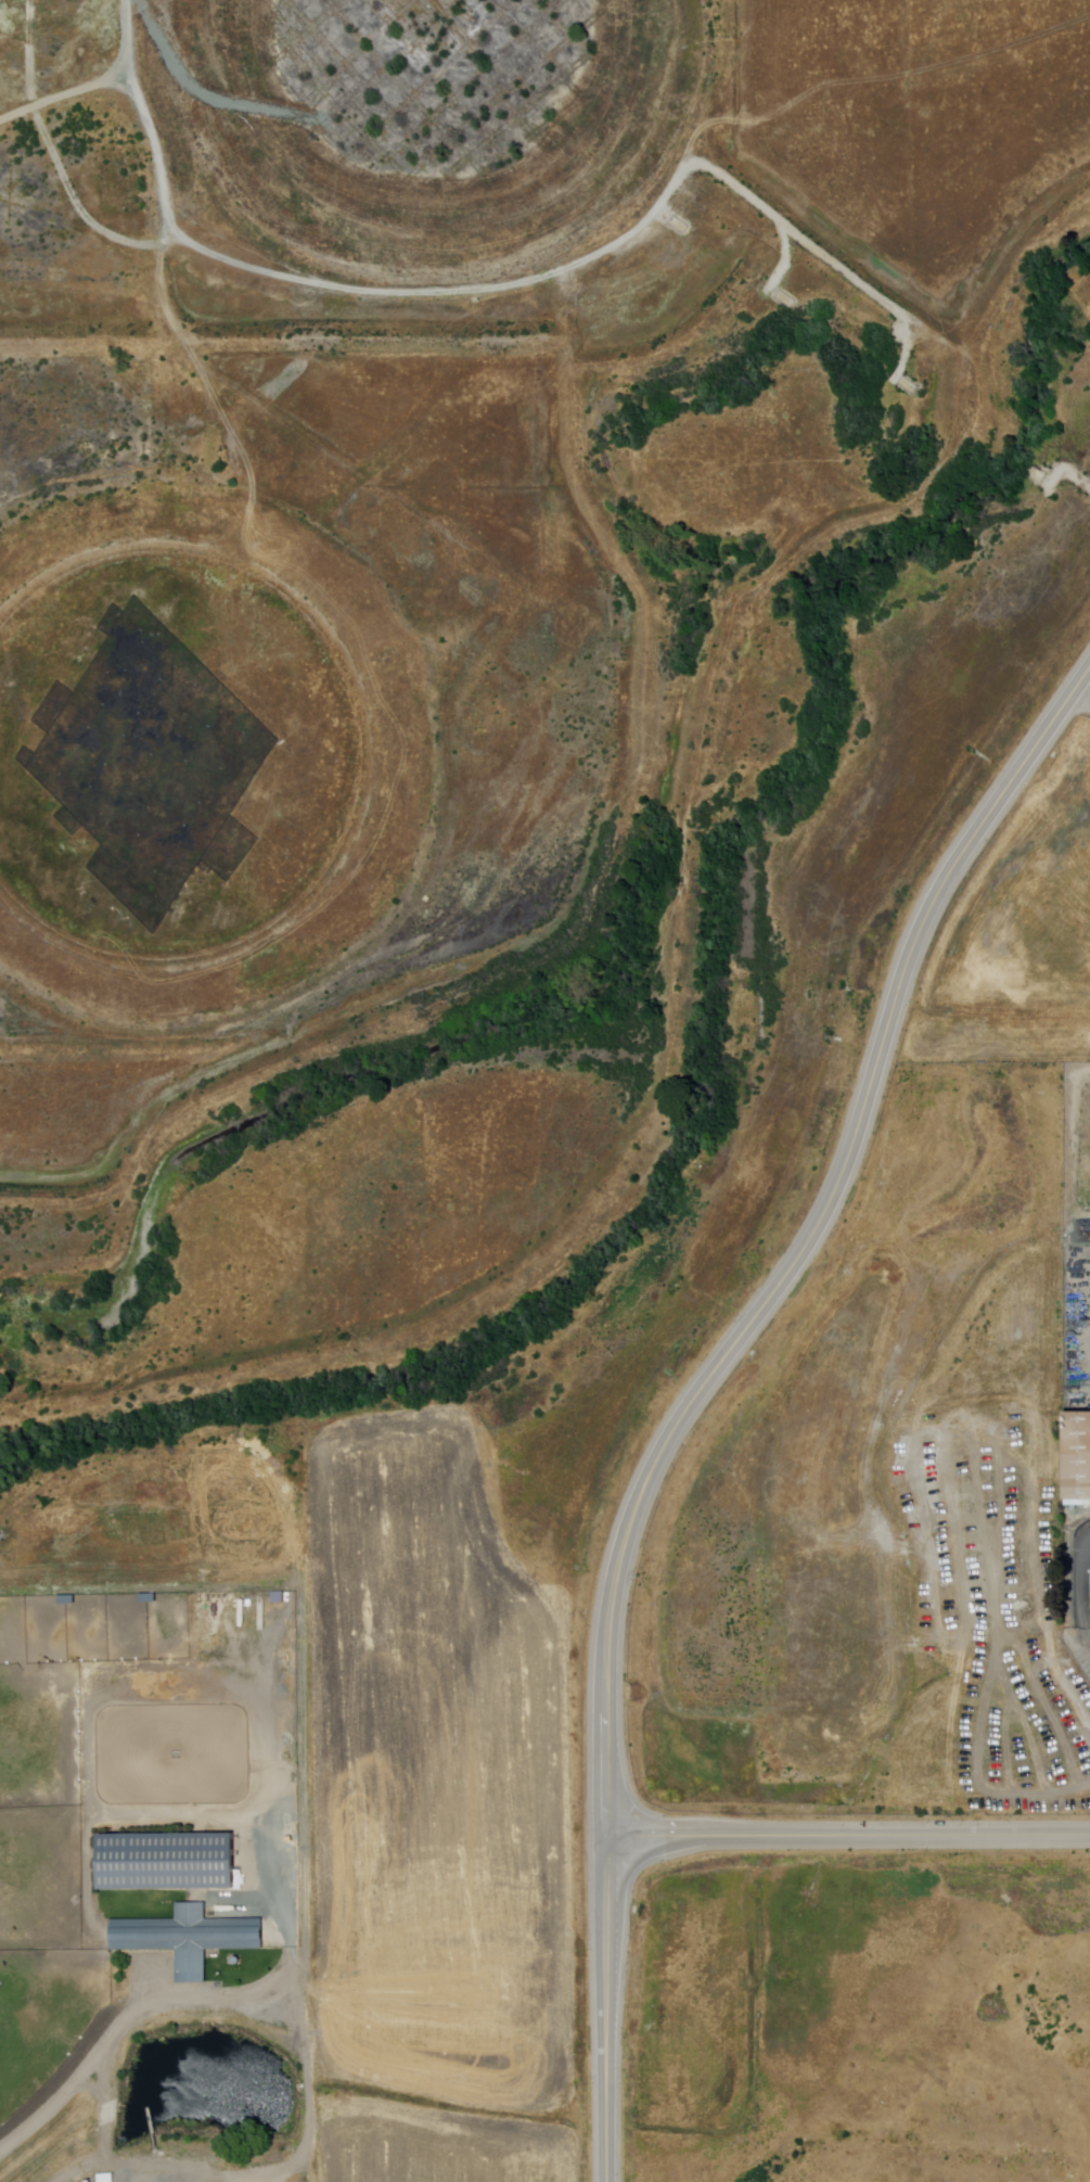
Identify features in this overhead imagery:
airport: (1016, 930)
building: (1080, 1188)
building: (1088, 1192)
road: (702, 1381)
building: (1078, 1454)
crop: (434, 1816)
road: (847, 1835)
building: (167, 1862)
crop: (41, 1888)
building: (189, 1938)
crop: (858, 2017)
building: (85, 2081)
road: (72, 2083)
building: (106, 2178)

